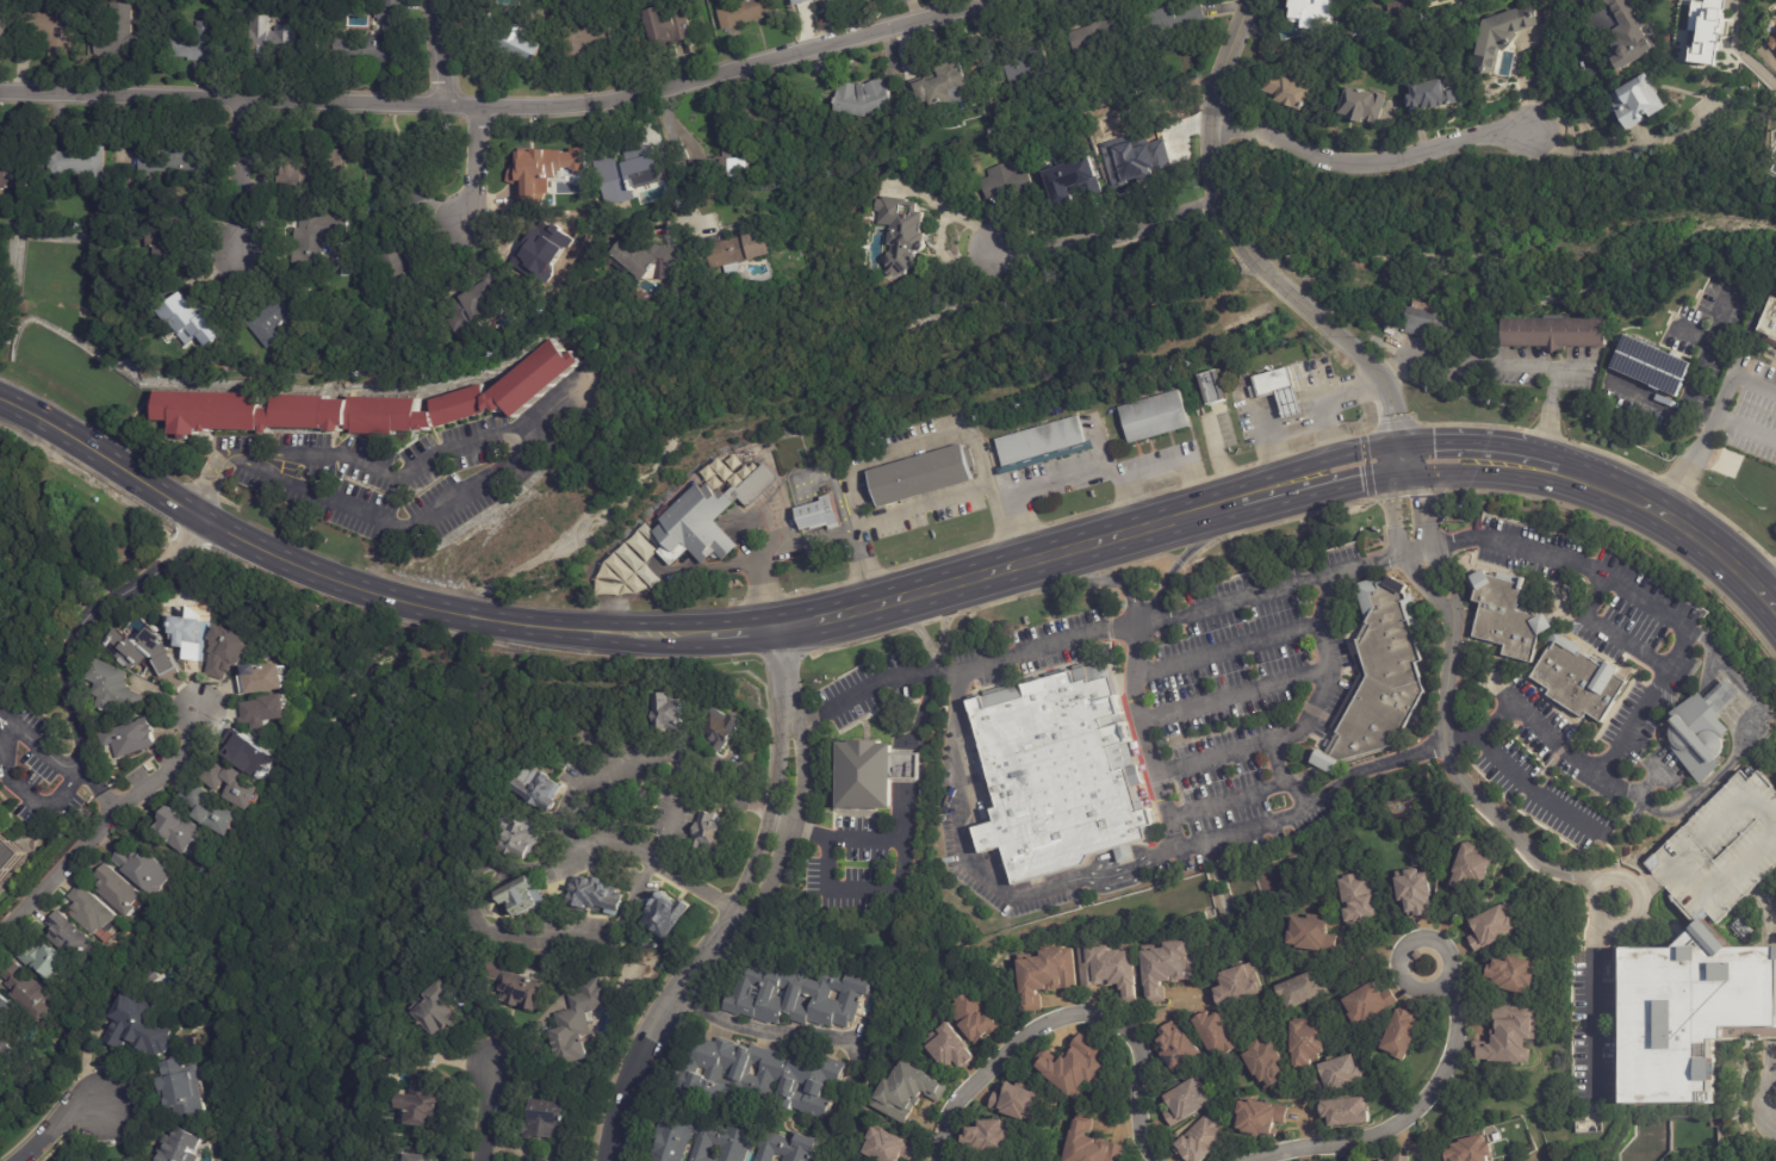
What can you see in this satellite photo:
building: (255, 0)
building: (832, 0)
building: (799, 1)
building: (1393, 7)
building: (1309, 8)
building: (749, 12)
building: (1175, 23)
building: (675, 26)
building: (2, 27)
building: (1704, 31)
building: (48, 33)
building: (123, 35)
building: (380, 36)
building: (1103, 37)
building: (1626, 37)
building: (1501, 39)
building: (281, 41)
building: (596, 41)
building: (201, 44)
building: (1774, 44)
building: (517, 46)
road: (437, 51)
building: (1020, 64)
road: (1755, 68)
building: (955, 83)
building: (1756, 85)
road: (1571, 87)
building: (1281, 91)
building: (1428, 95)
building: (863, 97)
road: (503, 103)
building: (1634, 103)
building: (1360, 105)
road: (1212, 118)
building: (1739, 128)
road: (673, 157)
building: (175, 160)
building: (1142, 160)
building: (731, 162)
road: (1371, 162)
building: (82, 164)
road: (474, 164)
building: (313, 167)
building: (13, 172)
road: (241, 173)
building: (412, 176)
building: (626, 176)
building: (1076, 176)
building: (536, 180)
building: (1007, 180)
building: (594, 222)
building: (613, 231)
road: (1107, 231)
building: (321, 241)
building: (173, 247)
building: (547, 250)
building: (745, 250)
building: (901, 253)
building: (650, 259)
building: (403, 265)
road: (1280, 286)
building: (0, 287)
building: (479, 303)
building: (278, 318)
building: (1421, 318)
building: (1768, 322)
building: (197, 327)
building: (1553, 331)
road: (1689, 334)
road: (1702, 350)
road: (1463, 354)
building: (1648, 365)
building: (538, 374)
building: (1211, 387)
building: (1279, 389)
gas station: (1281, 390)
road: (1385, 392)
road: (1346, 395)
road: (561, 397)
road: (1551, 401)
road: (1659, 404)
parking lot: (1752, 410)
building: (313, 412)
traffic signals: (1393, 417)
building: (1156, 418)
parking lot: (1247, 421)
road: (1710, 424)
road: (1746, 426)
road: (1290, 434)
traffic signals: (1434, 442)
building: (1044, 445)
road: (1390, 446)
road: (911, 448)
road: (1542, 451)
road: (1501, 459)
road: (1215, 461)
road: (1532, 464)
building: (923, 476)
road: (1393, 476)
road: (1575, 476)
road: (831, 477)
traffic signals: (1361, 483)
road: (153, 489)
road: (993, 493)
traffic signals: (1423, 499)
road: (1131, 501)
road: (1231, 502)
road: (788, 511)
road: (781, 515)
building: (818, 515)
road: (812, 517)
building: (706, 519)
road: (776, 519)
road: (771, 522)
road: (671, 526)
road: (185, 528)
road: (1016, 528)
road: (816, 533)
road: (1694, 534)
road: (1428, 546)
road: (1416, 551)
road: (170, 552)
road: (1403, 553)
road: (863, 565)
road: (992, 571)
road: (1769, 585)
road: (759, 591)
road: (1132, 603)
road: (1232, 604)
road: (451, 613)
building: (1507, 616)
road: (611, 619)
road: (795, 625)
road: (1601, 628)
road: (743, 632)
road: (652, 634)
road: (66, 640)
parking lot: (1032, 646)
road: (1227, 646)
building: (147, 653)
building: (229, 654)
road: (993, 659)
road: (1663, 662)
building: (1381, 672)
building: (267, 681)
building: (1578, 681)
parking lot: (870, 687)
road: (859, 689)
building: (114, 690)
building: (1075, 694)
road: (1235, 694)
parking lot: (1232, 702)
building: (1029, 707)
building: (268, 713)
road: (919, 713)
building: (675, 716)
building: (981, 718)
building: (1002, 719)
building: (1702, 729)
building: (725, 731)
building: (133, 738)
road: (1290, 738)
road: (1749, 738)
road: (38, 739)
road: (1215, 756)
building: (1050, 758)
road: (646, 760)
road: (912, 766)
building: (873, 775)
building: (238, 780)
road: (97, 788)
road: (23, 789)
building: (539, 789)
road: (1532, 790)
road: (727, 793)
road: (1633, 795)
road: (1227, 800)
road: (1165, 801)
building: (213, 809)
road: (908, 809)
road: (99, 821)
building: (176, 828)
building: (523, 834)
building: (714, 836)
road: (1524, 849)
building: (1721, 849)
parking garage: (1721, 849)
building: (8, 856)
road: (650, 859)
parking lot: (851, 867)
building: (1472, 867)
building: (144, 870)
road: (980, 874)
road: (869, 889)
building: (1412, 889)
building: (118, 892)
building: (597, 893)
building: (523, 896)
building: (1356, 899)
road: (733, 907)
building: (92, 911)
building: (666, 914)
road: (596, 925)
building: (1490, 926)
building: (1310, 933)
building: (72, 936)
building: (1416, 955)
building: (48, 958)
road: (1449, 963)
building: (1169, 964)
building: (1110, 968)
building: (1513, 973)
building: (1045, 974)
building: (1235, 982)
building: (509, 983)
building: (30, 988)
building: (1299, 989)
building: (796, 995)
building: (1365, 1001)
building: (6, 1007)
building: (440, 1010)
road: (1594, 1012)
road: (1073, 1016)
building: (1695, 1017)
building: (973, 1018)
building: (573, 1020)
building: (139, 1027)
road: (768, 1032)
building: (1213, 1033)
building: (1399, 1033)
building: (1508, 1035)
building: (1305, 1039)
building: (6, 1048)
building: (1174, 1048)
building: (949, 1049)
building: (1262, 1061)
building: (1074, 1067)
road: (1772, 1070)
building: (1336, 1073)
building: (762, 1078)
building: (184, 1087)
building: (905, 1091)
building: (426, 1100)
building: (1013, 1101)
building: (1184, 1101)
road: (486, 1110)
building: (1342, 1111)
building: (1256, 1116)
building: (549, 1118)
road: (1401, 1123)
road: (52, 1124)
building: (987, 1137)
building: (1200, 1140)
building: (728, 1143)
building: (1089, 1143)
building: (1130, 1143)
building: (884, 1144)
building: (180, 1146)
building: (1467, 1150)
building: (424, 1157)
building: (1401, 1159)

